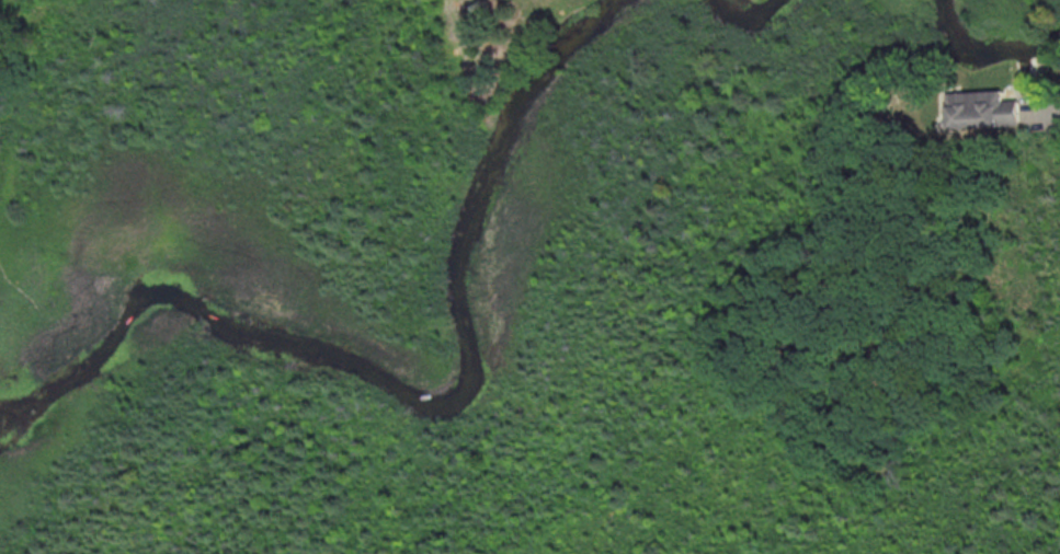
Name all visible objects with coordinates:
river: (746, 11)
river: (984, 50)
road: (8, 97)
building: (980, 108)
road: (1046, 117)
road: (12, 178)
road: (26, 300)
park: (578, 350)
river: (422, 397)

